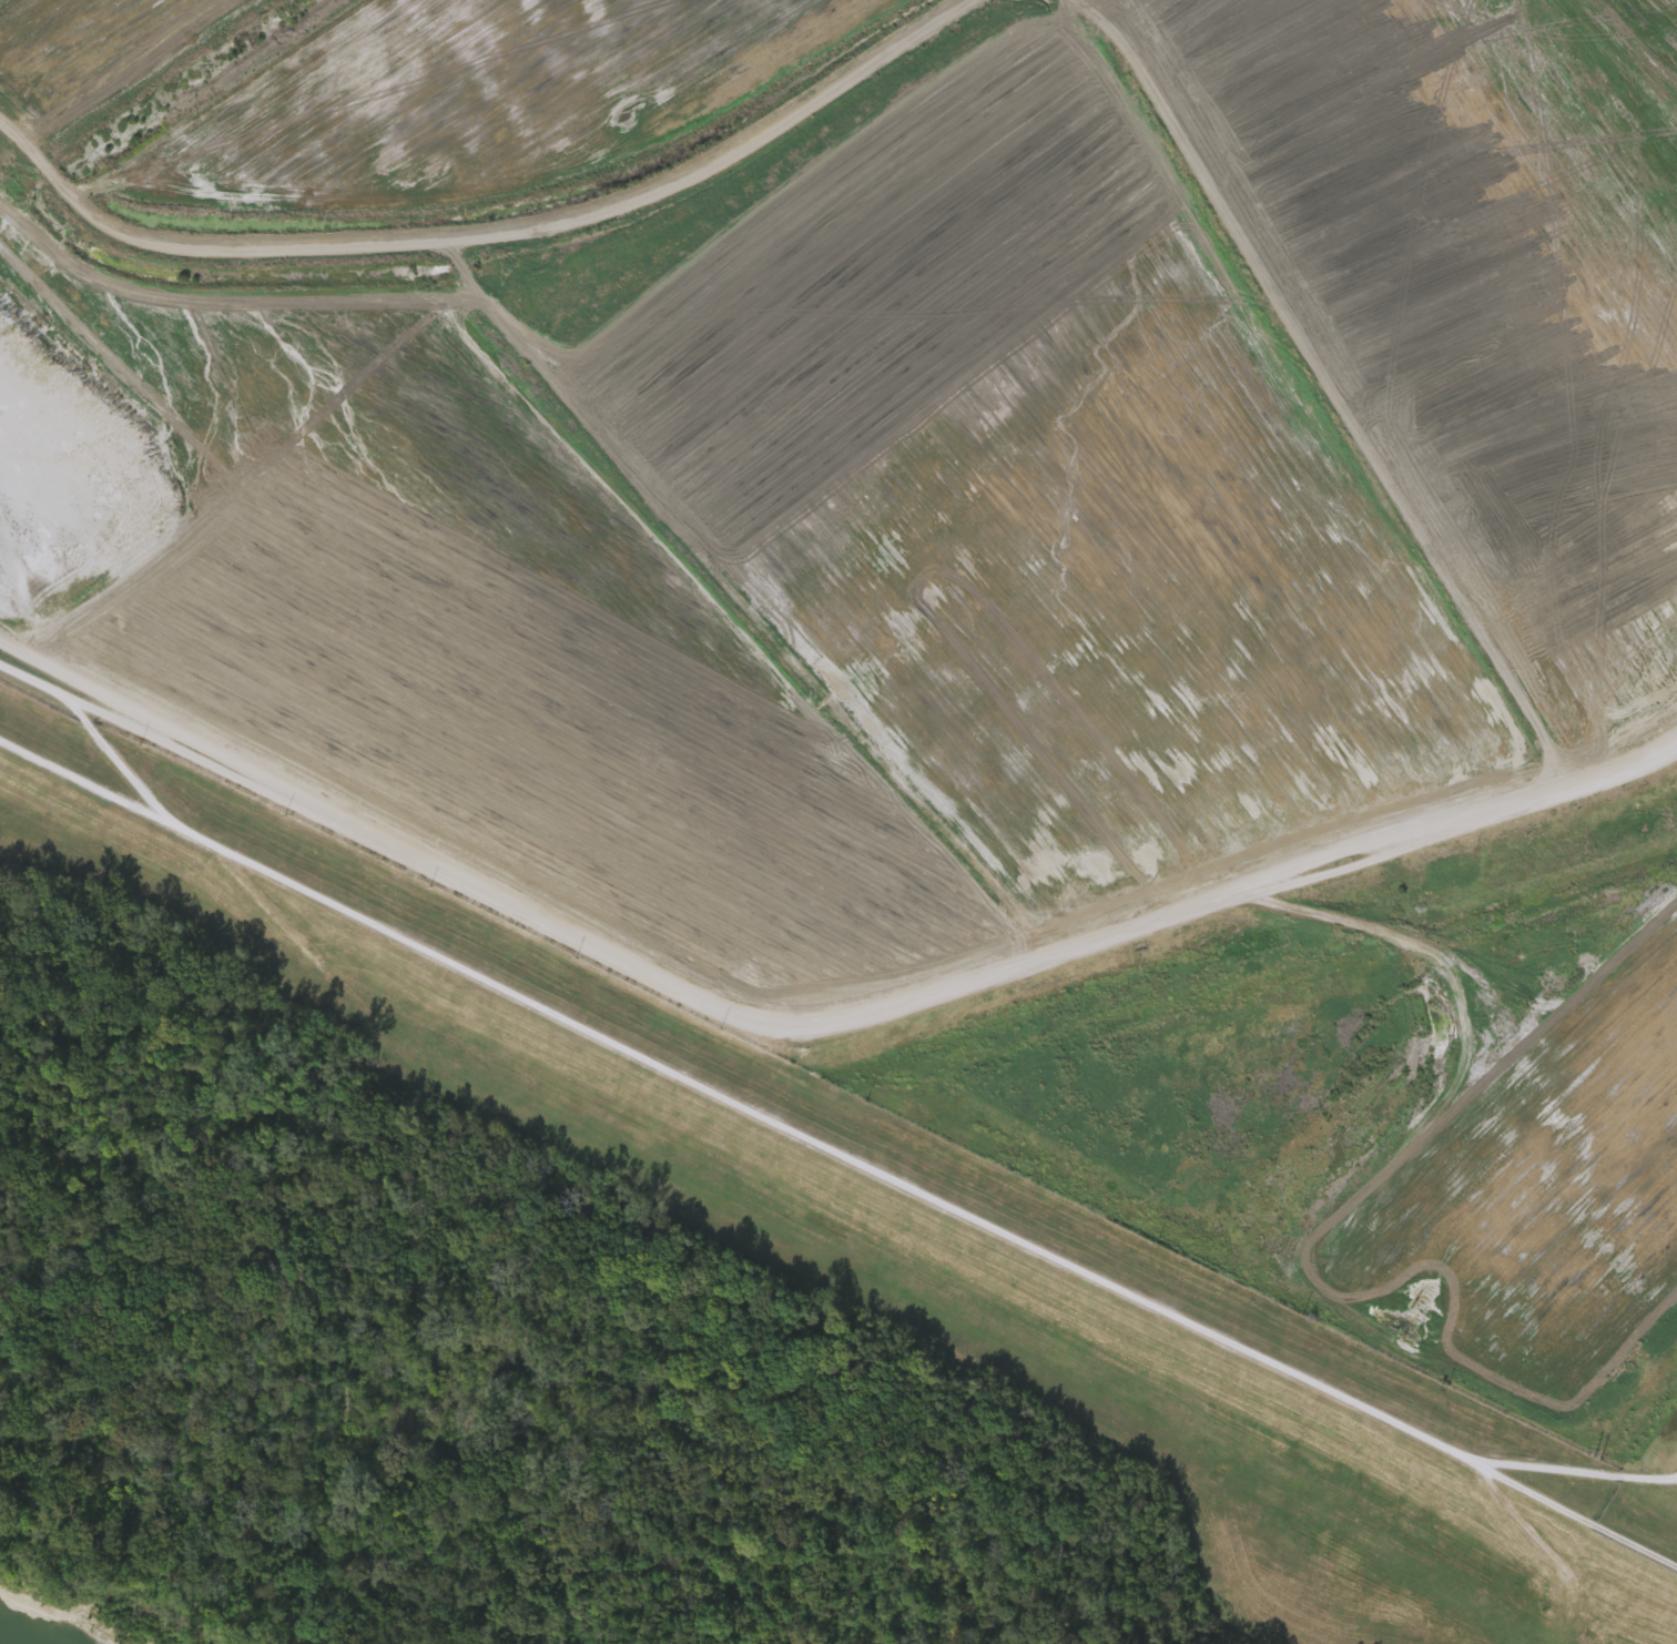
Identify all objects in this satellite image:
wastewater plant: (933, 621)
road: (743, 1105)
road: (1505, 1468)
road: (1599, 1468)

